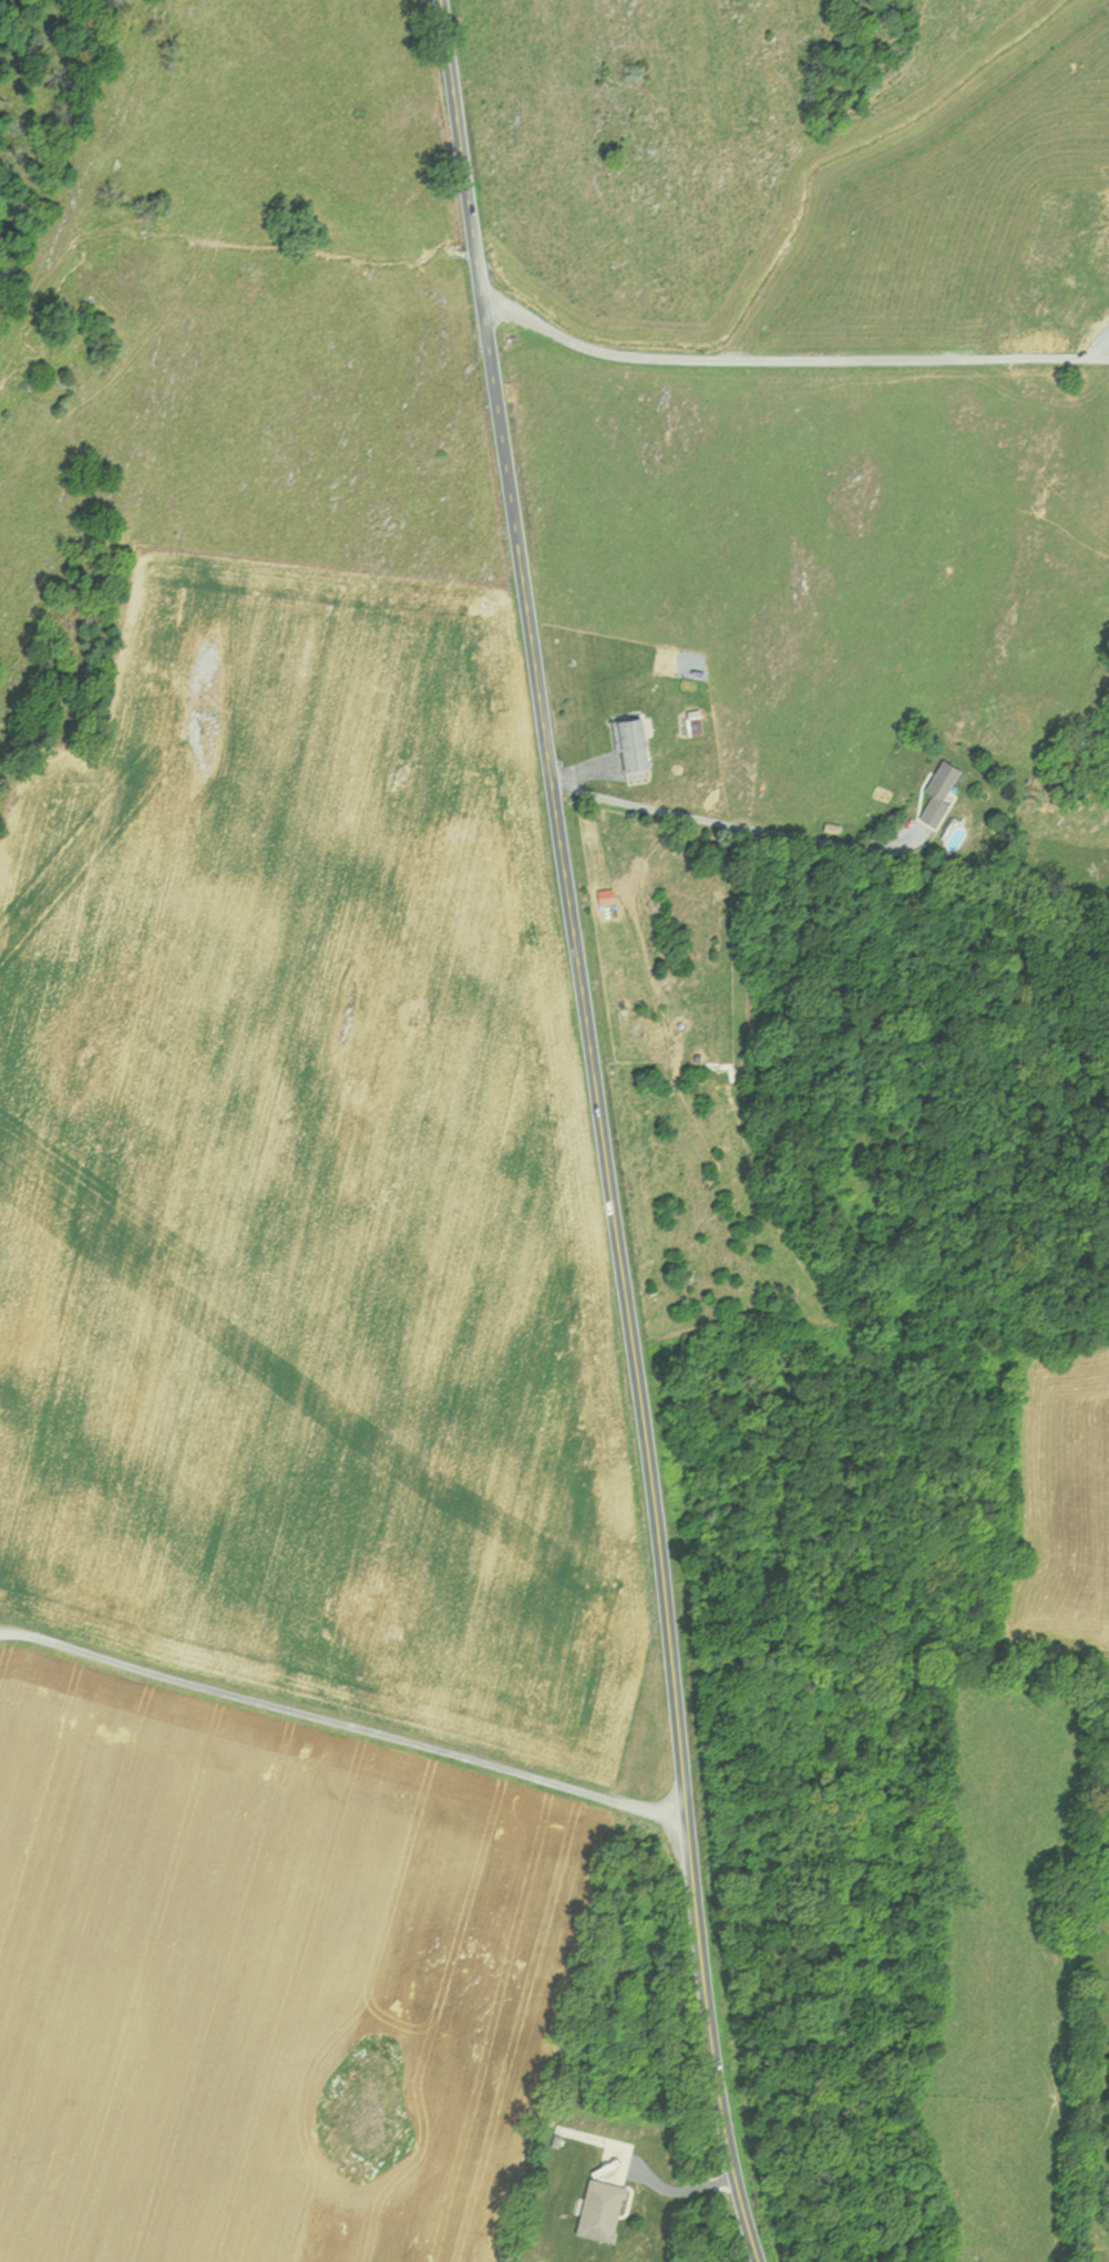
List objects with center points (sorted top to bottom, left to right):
road: (780, 357)
building: (625, 746)
building: (933, 796)
road: (735, 826)
road: (595, 1131)
road: (339, 1724)
road: (667, 2190)
building: (593, 2211)

